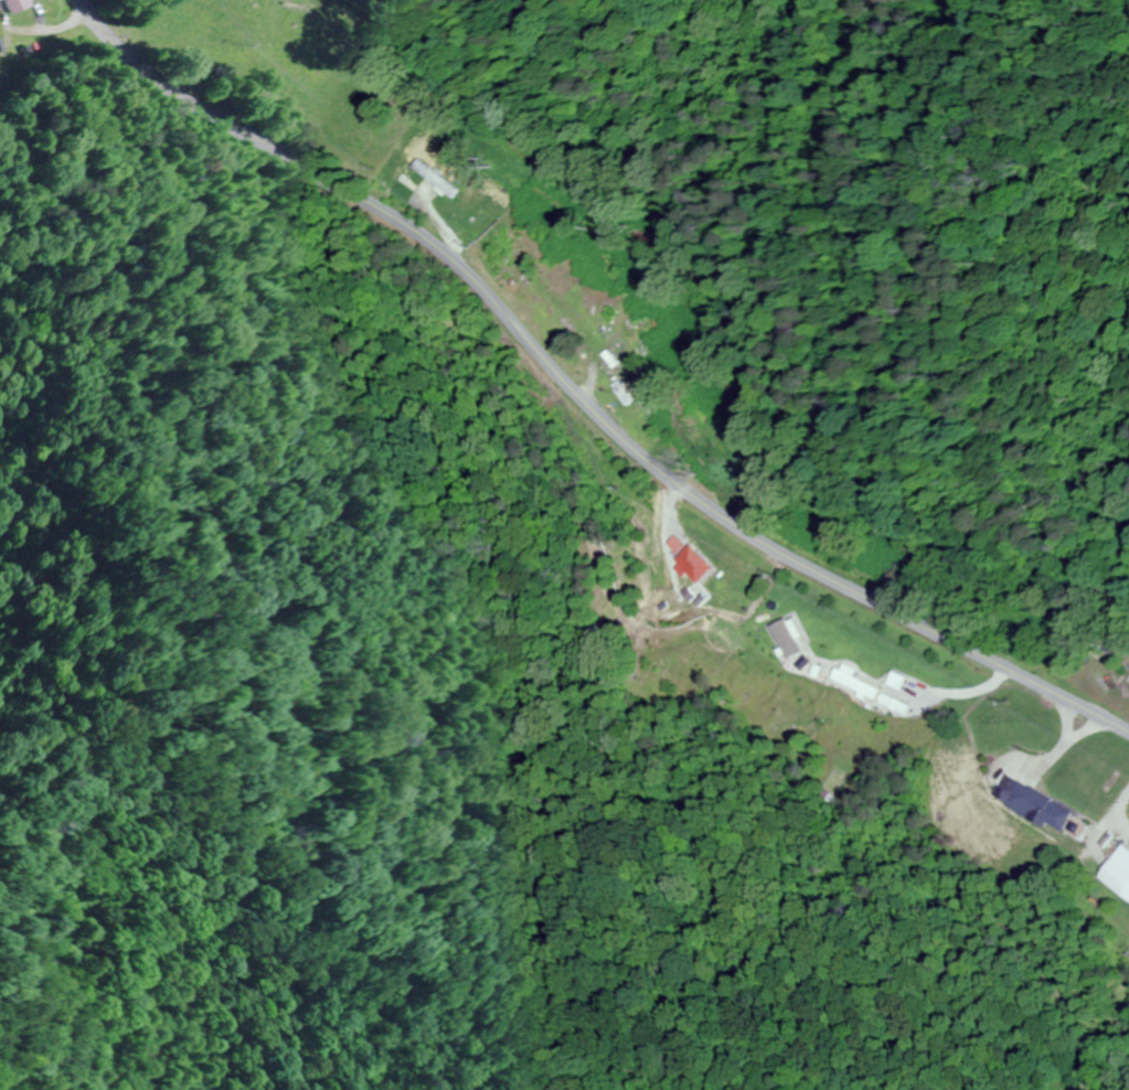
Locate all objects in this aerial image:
building: (10, 3)
building: (429, 177)
road: (573, 395)
building: (642, 404)
building: (699, 559)
building: (863, 680)
building: (1047, 808)
building: (1120, 875)

